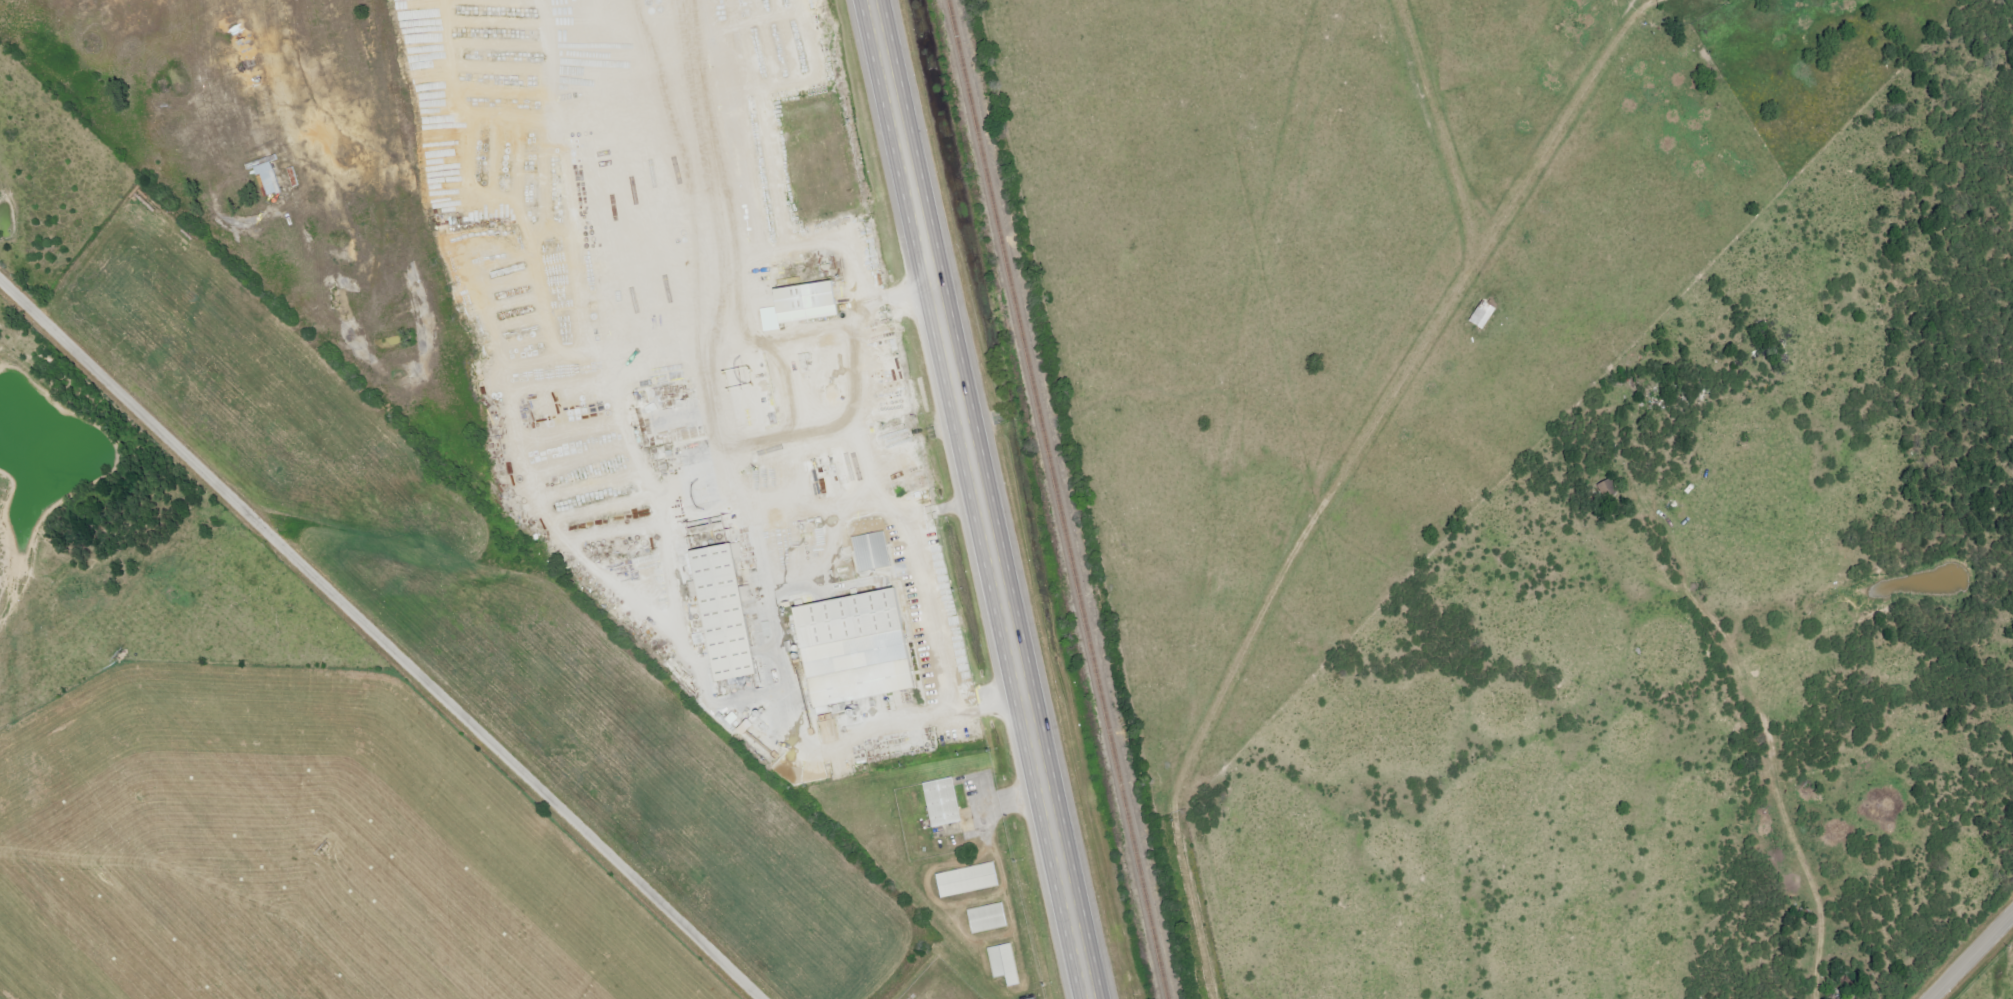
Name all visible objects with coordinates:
building: (270, 176)
building: (808, 300)
building: (1486, 314)
building: (1610, 488)
road: (975, 499)
railway: (1057, 499)
road: (889, 506)
road: (945, 513)
building: (872, 550)
road: (1281, 610)
building: (726, 611)
road: (381, 631)
building: (857, 647)
power tower: (112, 652)
road: (1768, 726)
building: (944, 802)
power tower: (321, 844)
building: (967, 878)
building: (988, 916)
road: (1972, 957)
building: (1005, 962)

